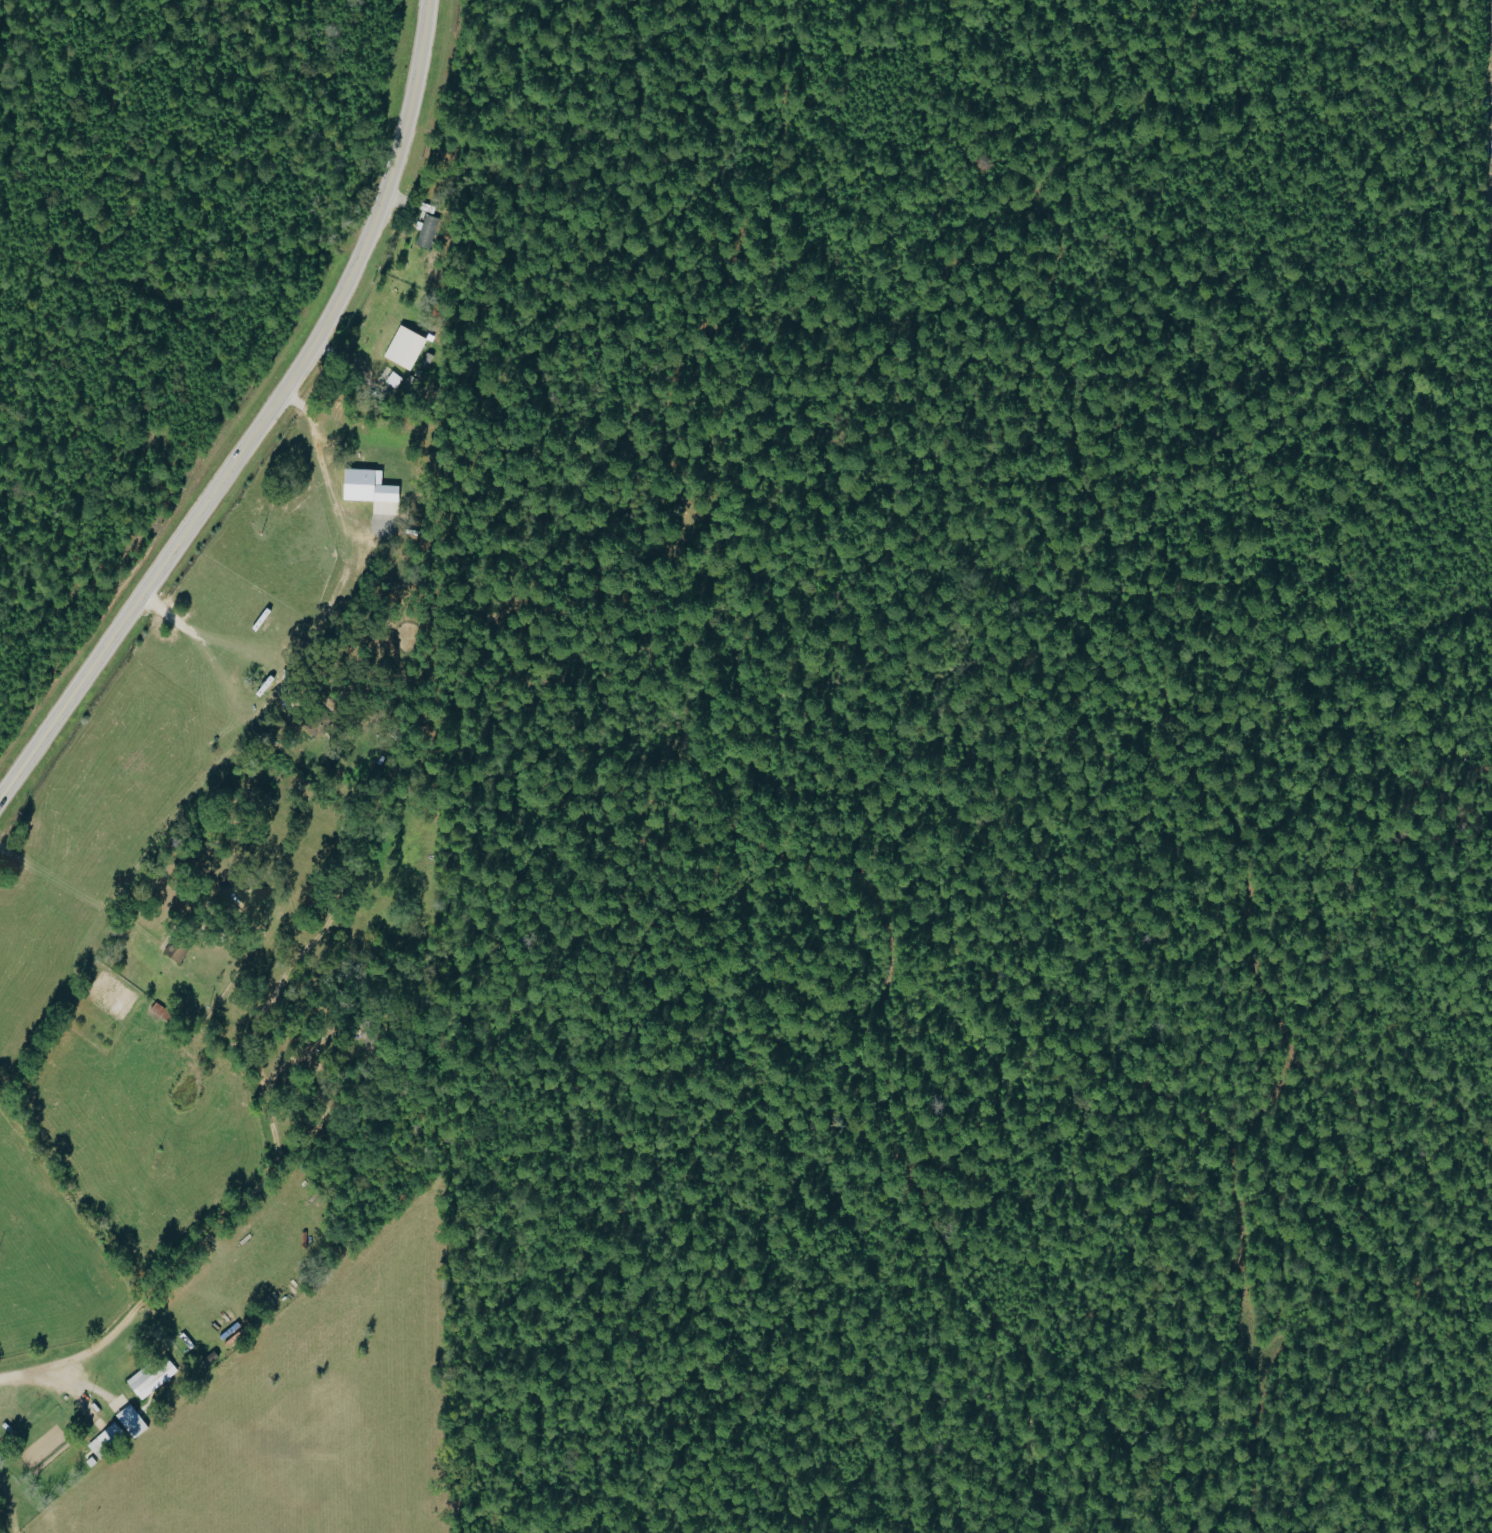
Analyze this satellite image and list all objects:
building: (428, 233)
building: (402, 348)
road: (256, 414)
building: (366, 490)
road: (332, 496)
building: (175, 950)
road: (195, 1248)
building: (207, 1360)
building: (150, 1378)
building: (129, 1422)
building: (106, 1441)

